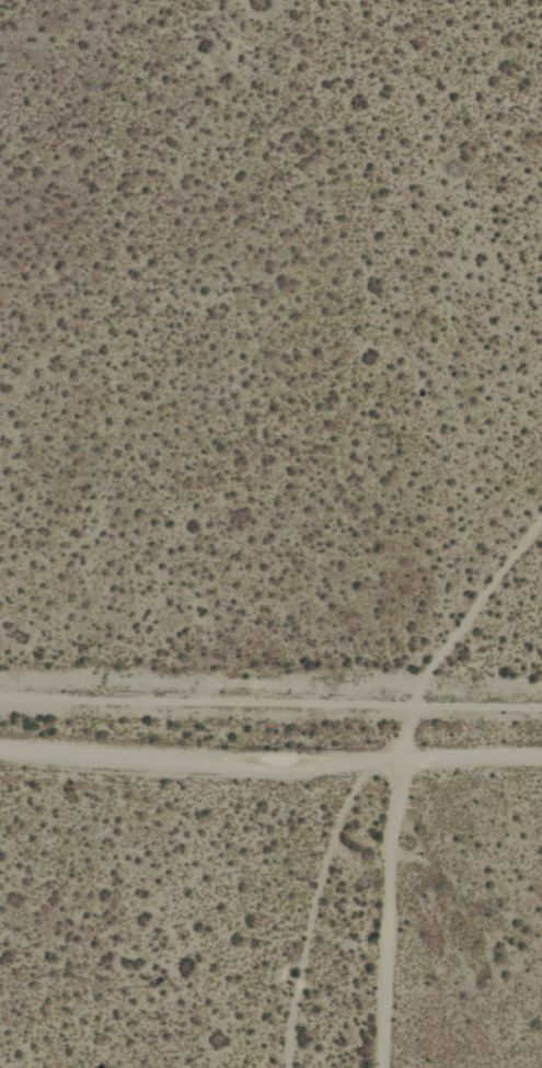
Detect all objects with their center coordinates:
road: (474, 649)
road: (270, 715)
road: (393, 890)

